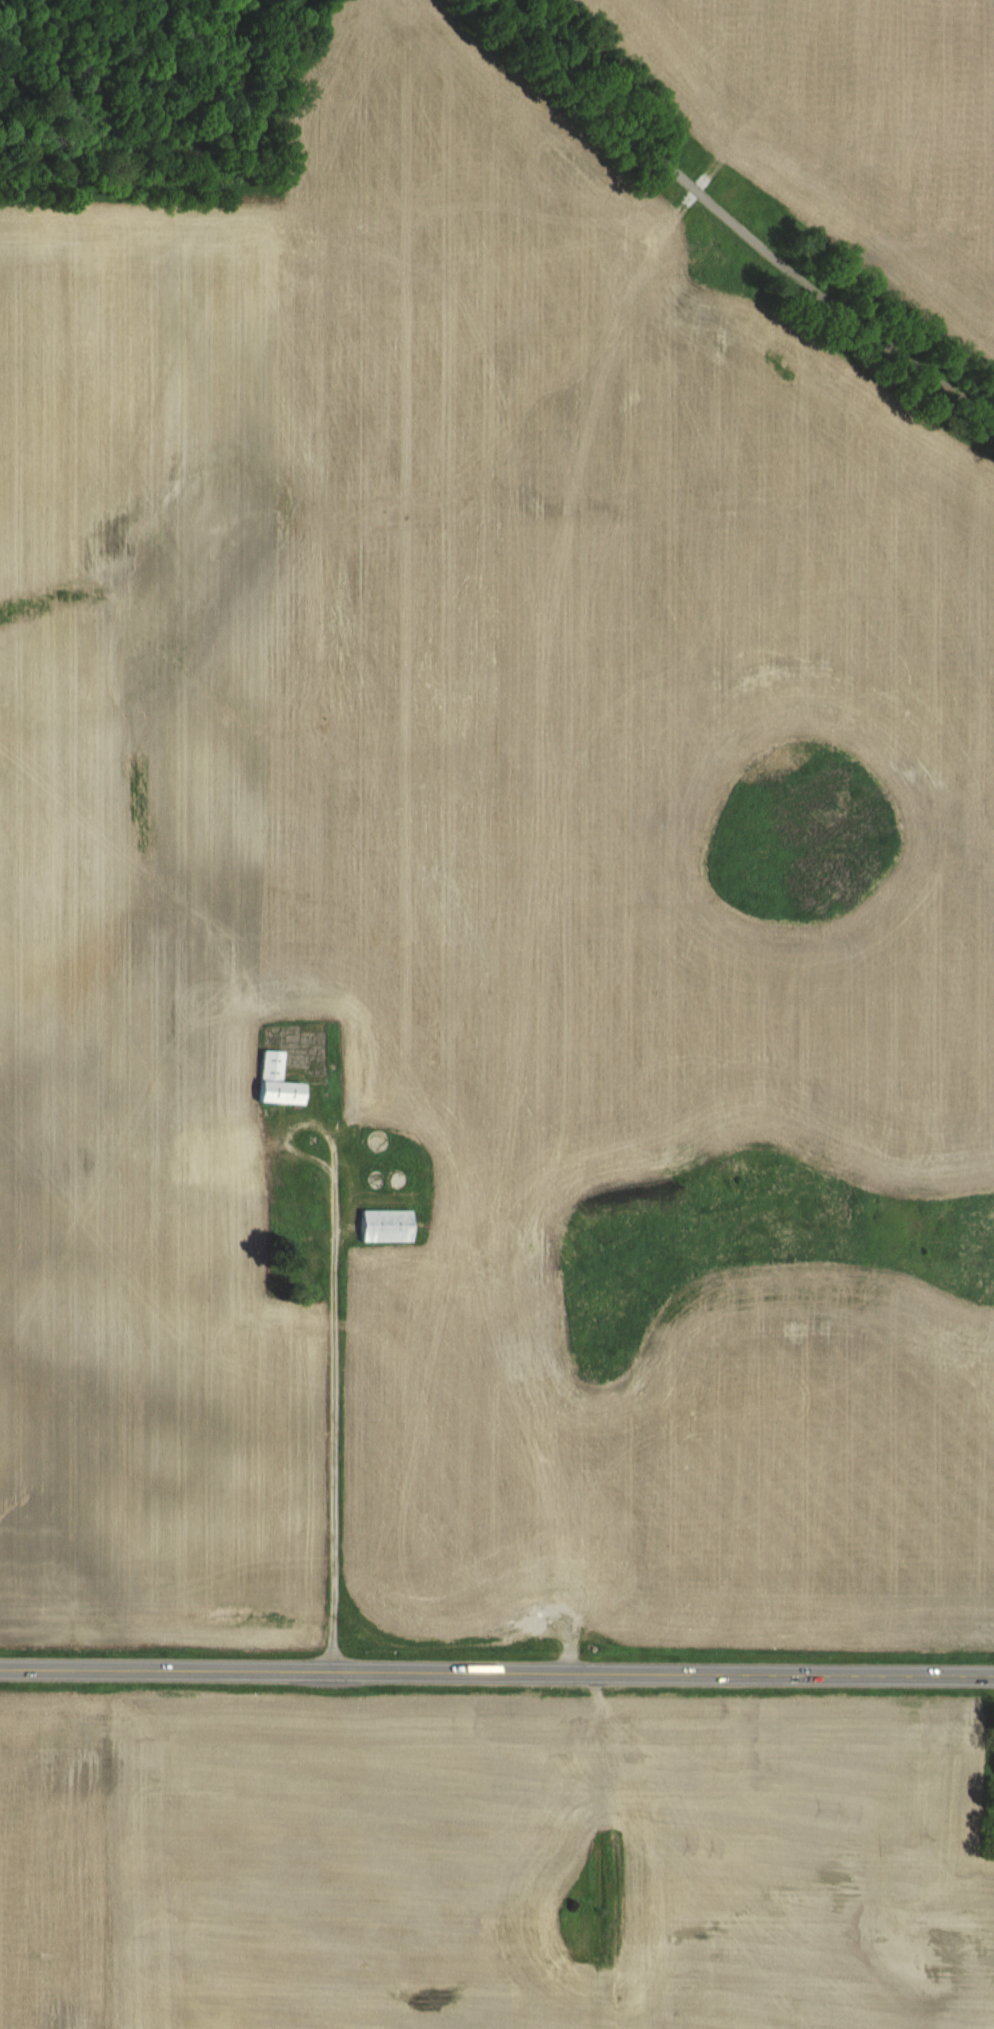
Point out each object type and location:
road: (736, 220)
building: (275, 1080)
building: (375, 1139)
building: (395, 1178)
building: (382, 1224)
road: (332, 1373)
road: (496, 1675)

